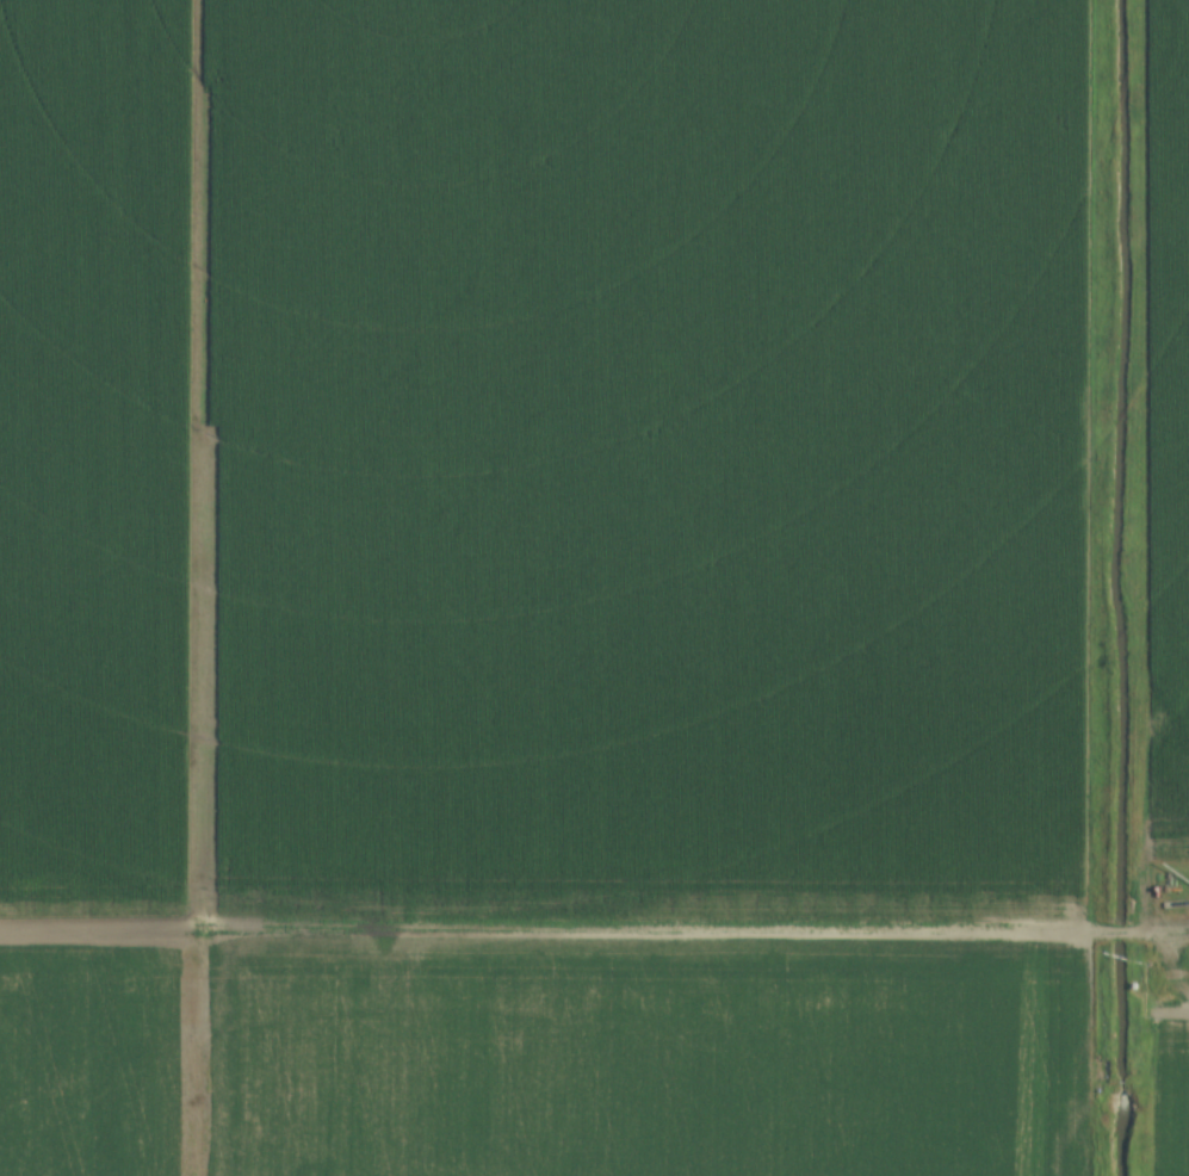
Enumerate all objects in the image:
crop: (1163, 414)
crop: (546, 587)
road: (594, 928)
crop: (1171, 1091)

